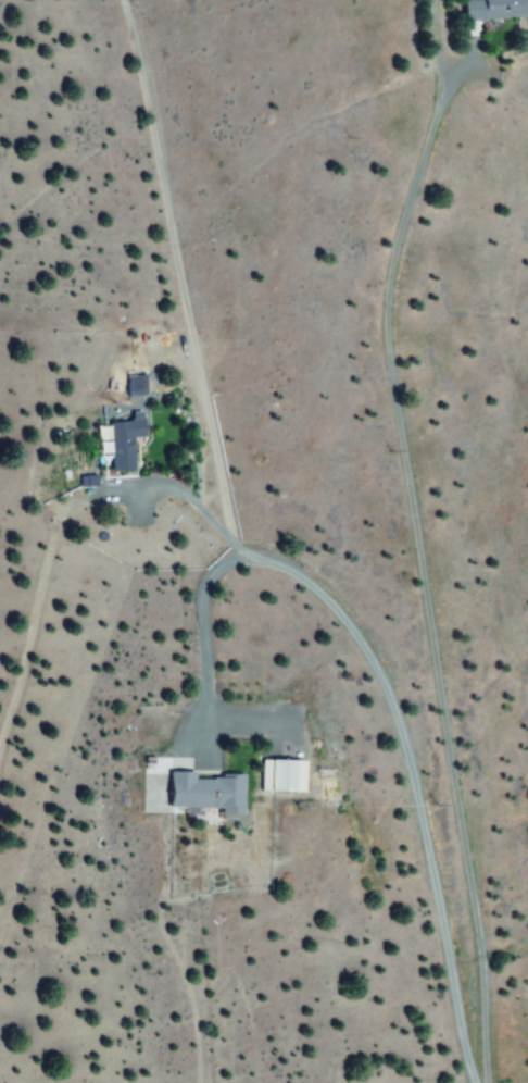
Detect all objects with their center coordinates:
building: (491, 9)
building: (124, 443)
building: (285, 775)
building: (205, 792)
road: (435, 873)

